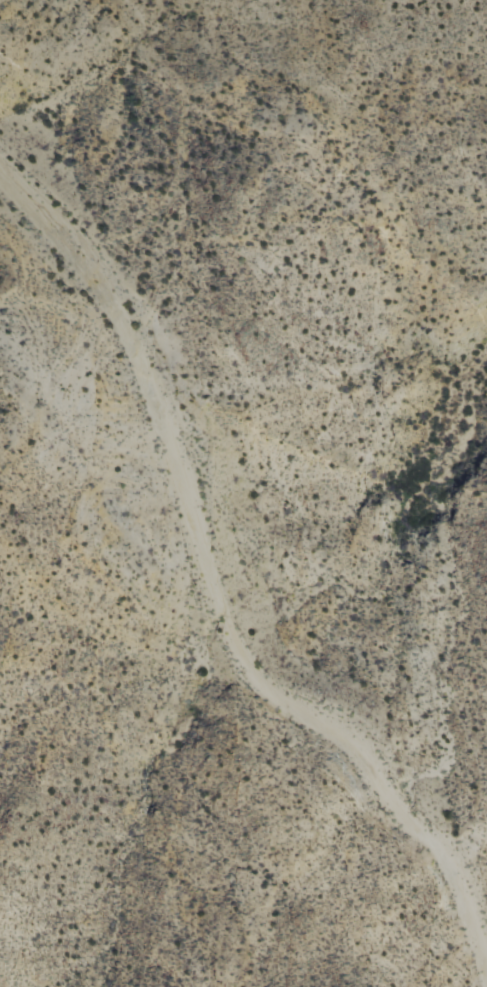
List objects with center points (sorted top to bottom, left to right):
road: (218, 599)

